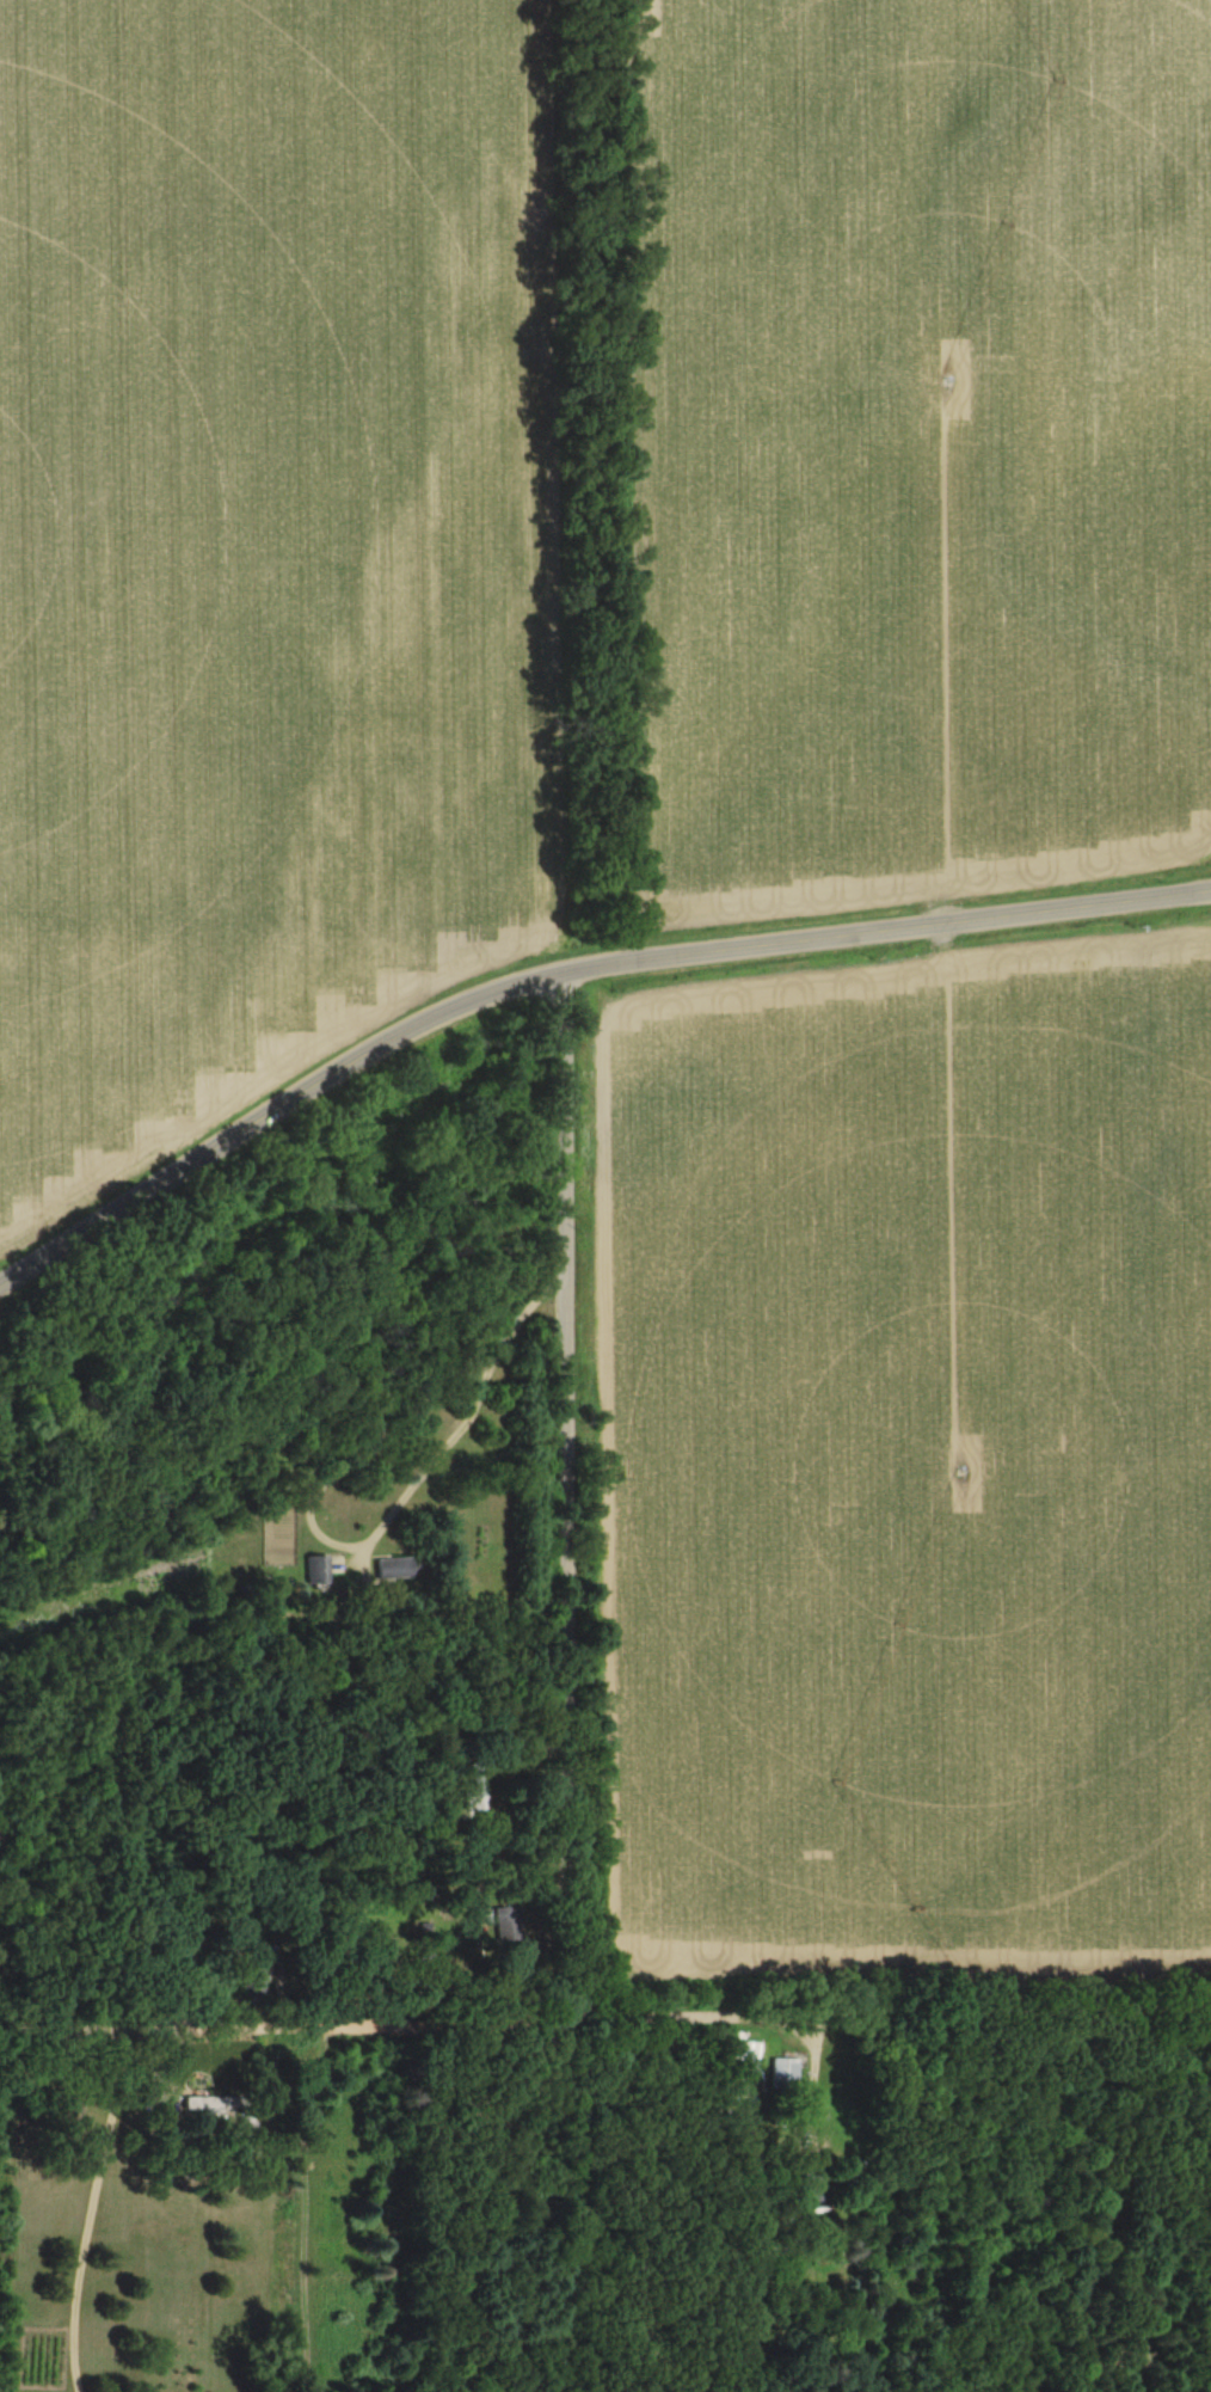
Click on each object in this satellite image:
crop: (928, 441)
road: (564, 974)
crop: (920, 1471)
road: (314, 1490)
road: (565, 1501)
building: (394, 1568)
building: (318, 1570)
building: (475, 1790)
building: (505, 1922)
road: (605, 2029)
building: (785, 2073)
building: (211, 2105)
building: (814, 2185)
road: (277, 2207)
road: (88, 2209)
road: (567, 2210)

